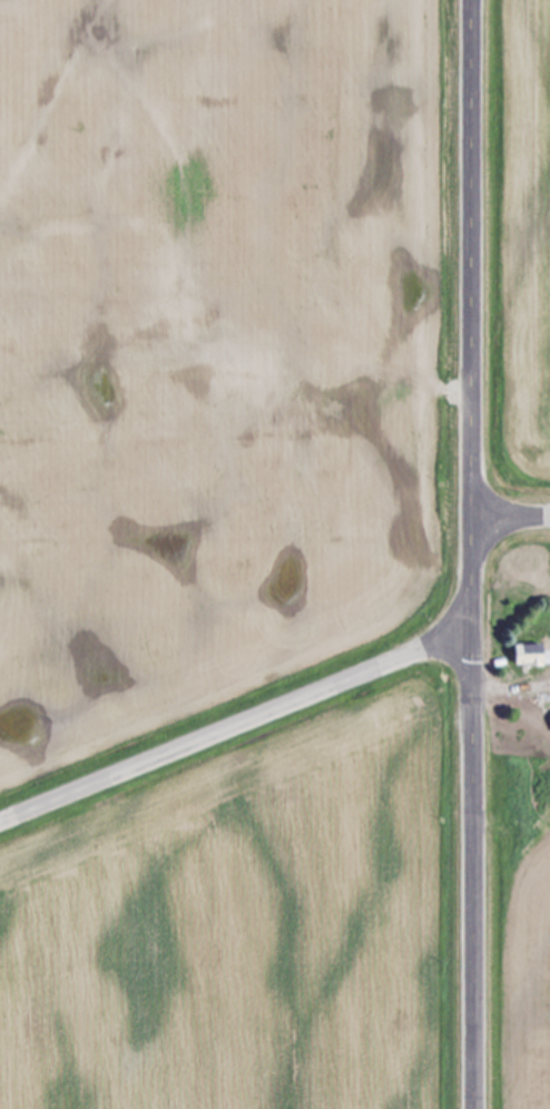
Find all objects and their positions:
road: (512, 517)
road: (473, 554)
road: (235, 725)

